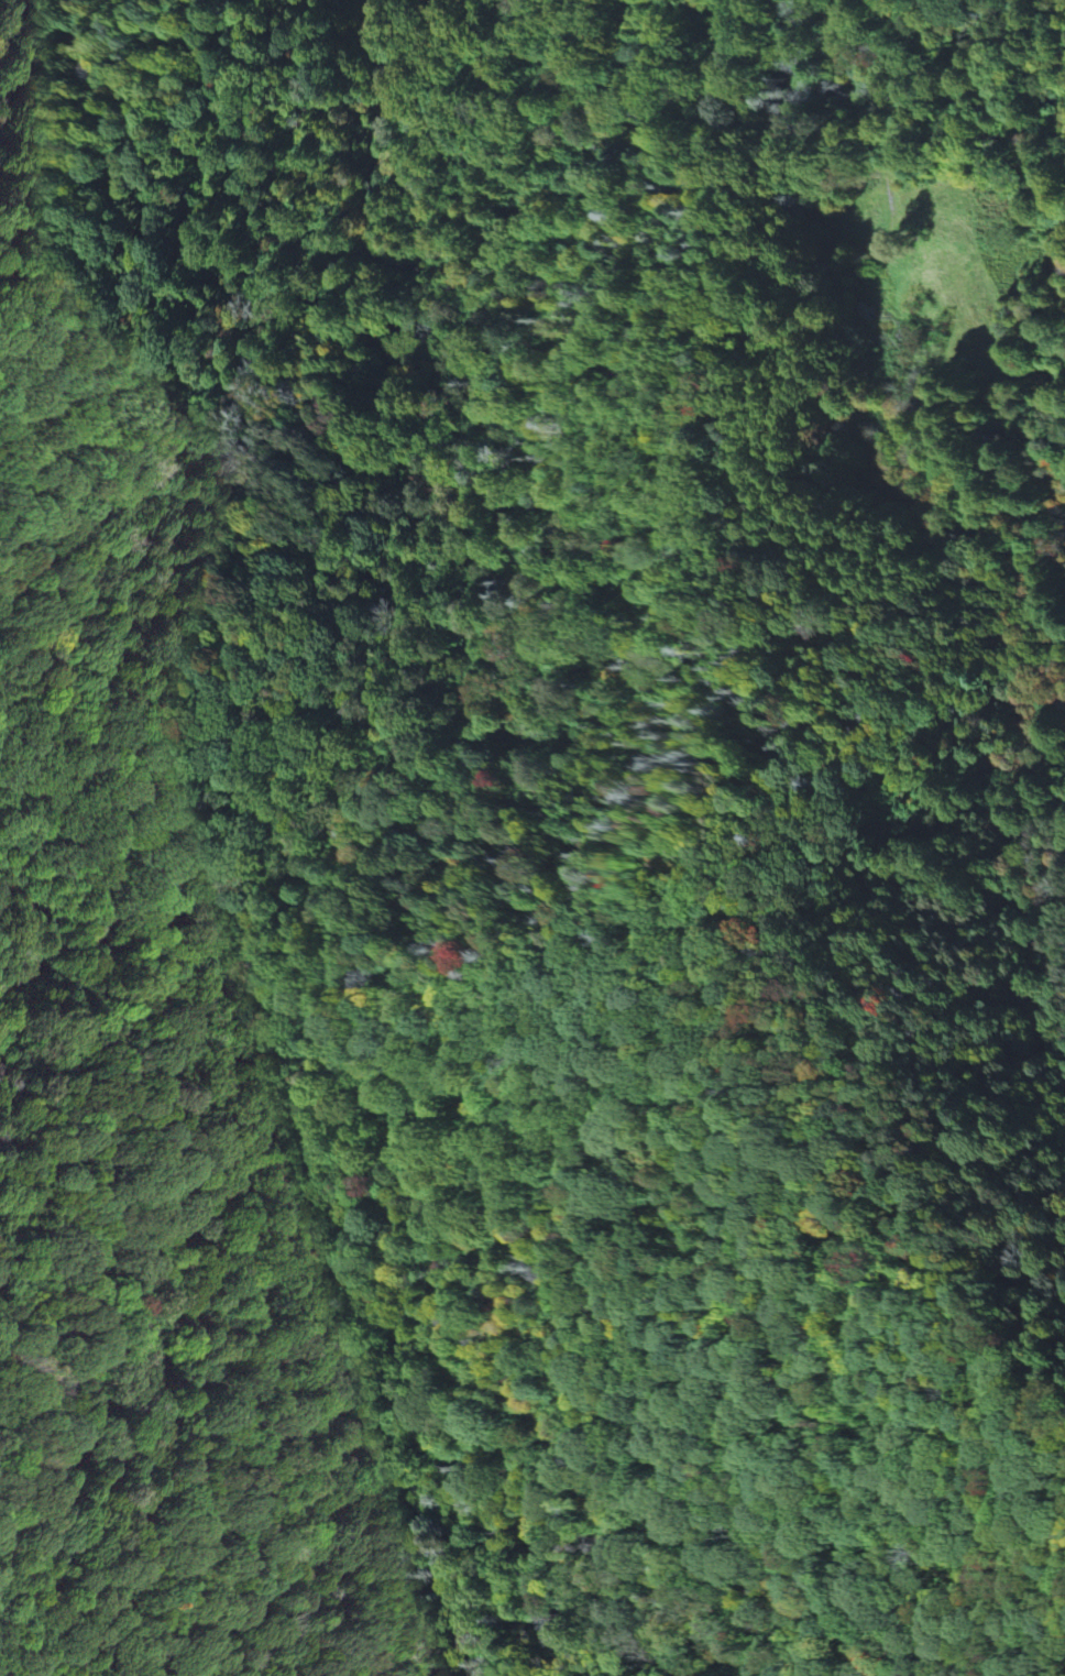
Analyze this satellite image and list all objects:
road: (57, 53)
road: (868, 100)
road: (471, 260)
road: (48, 939)

